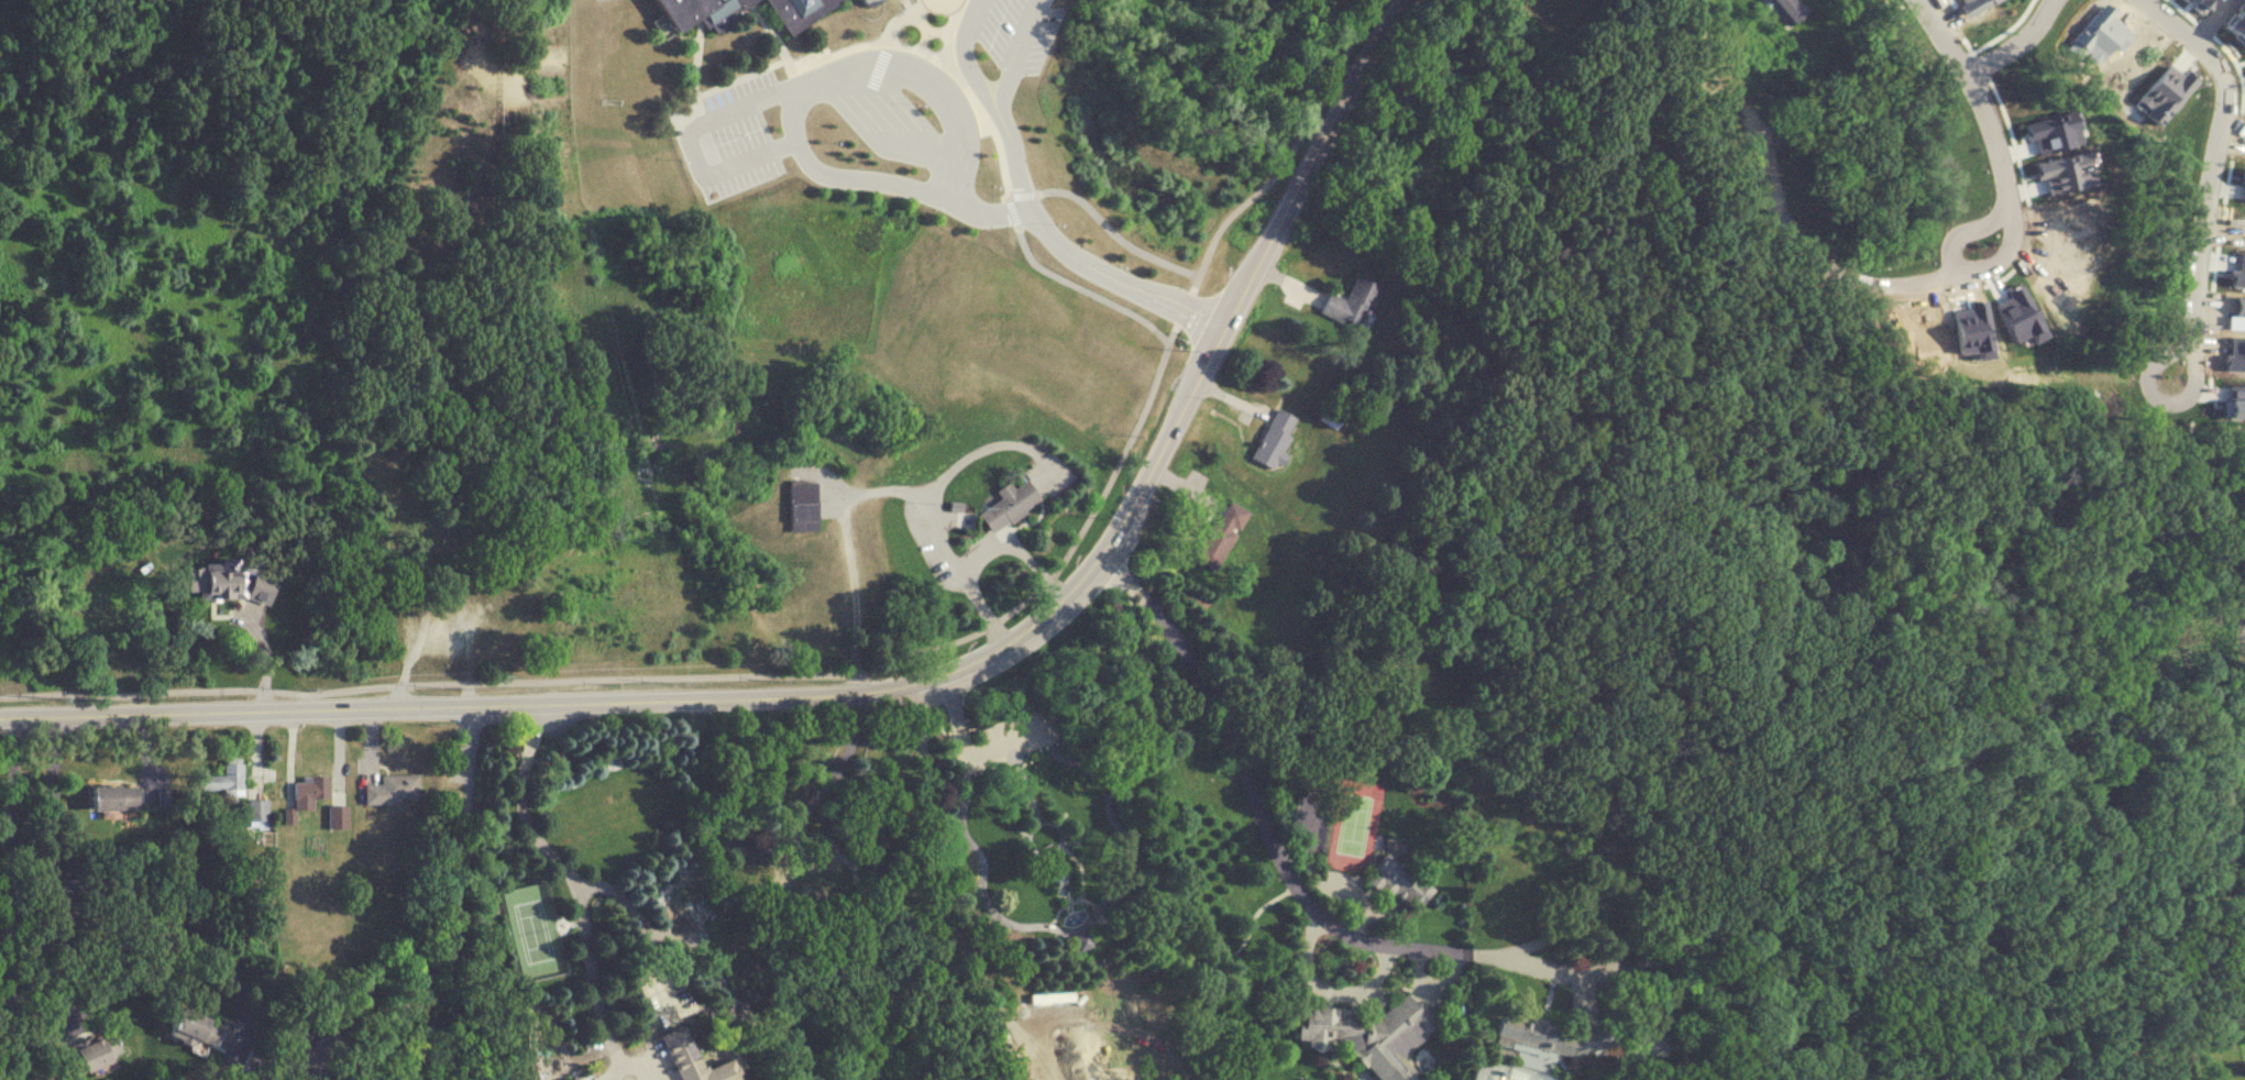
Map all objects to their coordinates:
building: (868, 1)
building: (1969, 5)
building: (2203, 5)
building: (1785, 9)
building: (701, 11)
building: (797, 11)
building: (1741, 22)
road: (2212, 22)
building: (2238, 33)
road: (2012, 43)
road: (1016, 53)
park: (605, 59)
road: (1977, 97)
road: (793, 111)
road: (889, 126)
parking lot: (730, 136)
road: (690, 137)
road: (2216, 172)
road: (1020, 192)
road: (1005, 195)
road: (1008, 209)
road: (1031, 209)
road: (1110, 232)
building: (2042, 258)
road: (1959, 264)
road: (1079, 288)
building: (1350, 302)
building: (1273, 438)
road: (992, 442)
road: (867, 487)
building: (1003, 504)
building: (797, 506)
building: (1218, 535)
road: (1015, 548)
building: (251, 613)
road: (272, 641)
road: (867, 664)
road: (889, 687)
road: (966, 748)
building: (227, 775)
building: (395, 787)
building: (311, 790)
building: (117, 796)
building: (260, 812)
building: (340, 815)
road: (564, 867)
building: (1395, 882)
building: (806, 885)
road: (110, 894)
road: (936, 894)
road: (11, 903)
road: (458, 905)
road: (60, 933)
road: (1475, 954)
road: (704, 955)
road: (378, 980)
road: (1057, 1024)
building: (203, 1027)
building: (1368, 1035)
building: (1548, 1036)
building: (1065, 1043)
building: (1644, 1044)
building: (104, 1051)
building: (685, 1059)
building: (2157, 1070)
building: (326, 1071)

